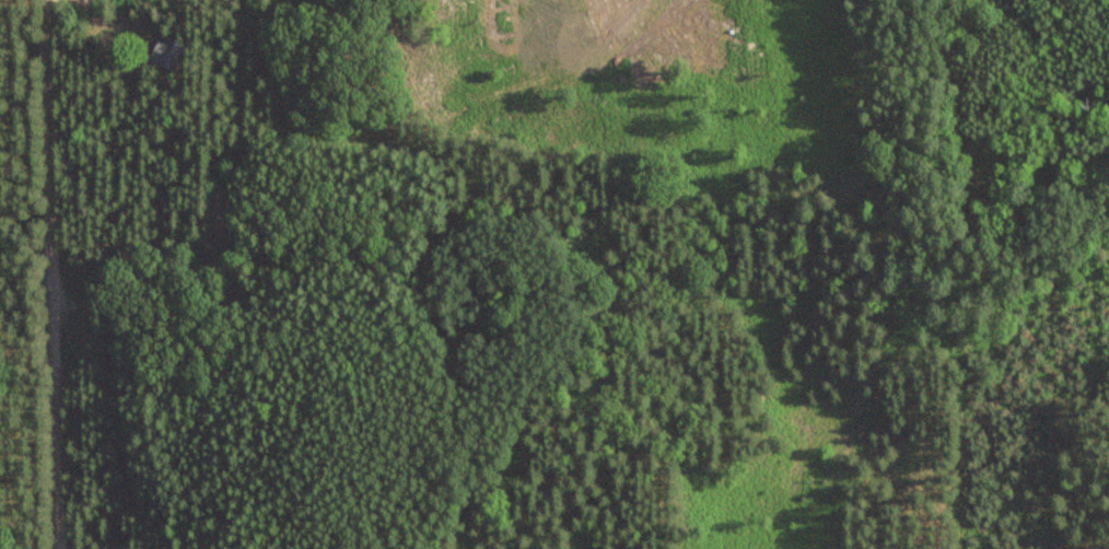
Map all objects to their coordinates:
building: (167, 50)
road: (54, 273)

